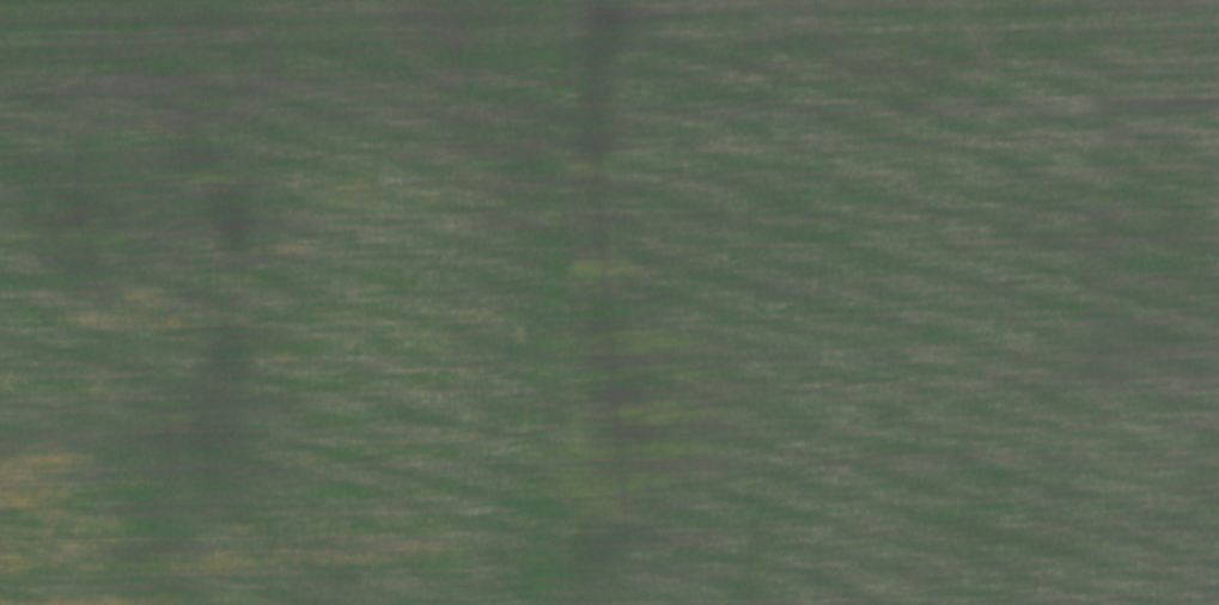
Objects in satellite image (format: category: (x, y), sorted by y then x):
crop: (609, 302)

